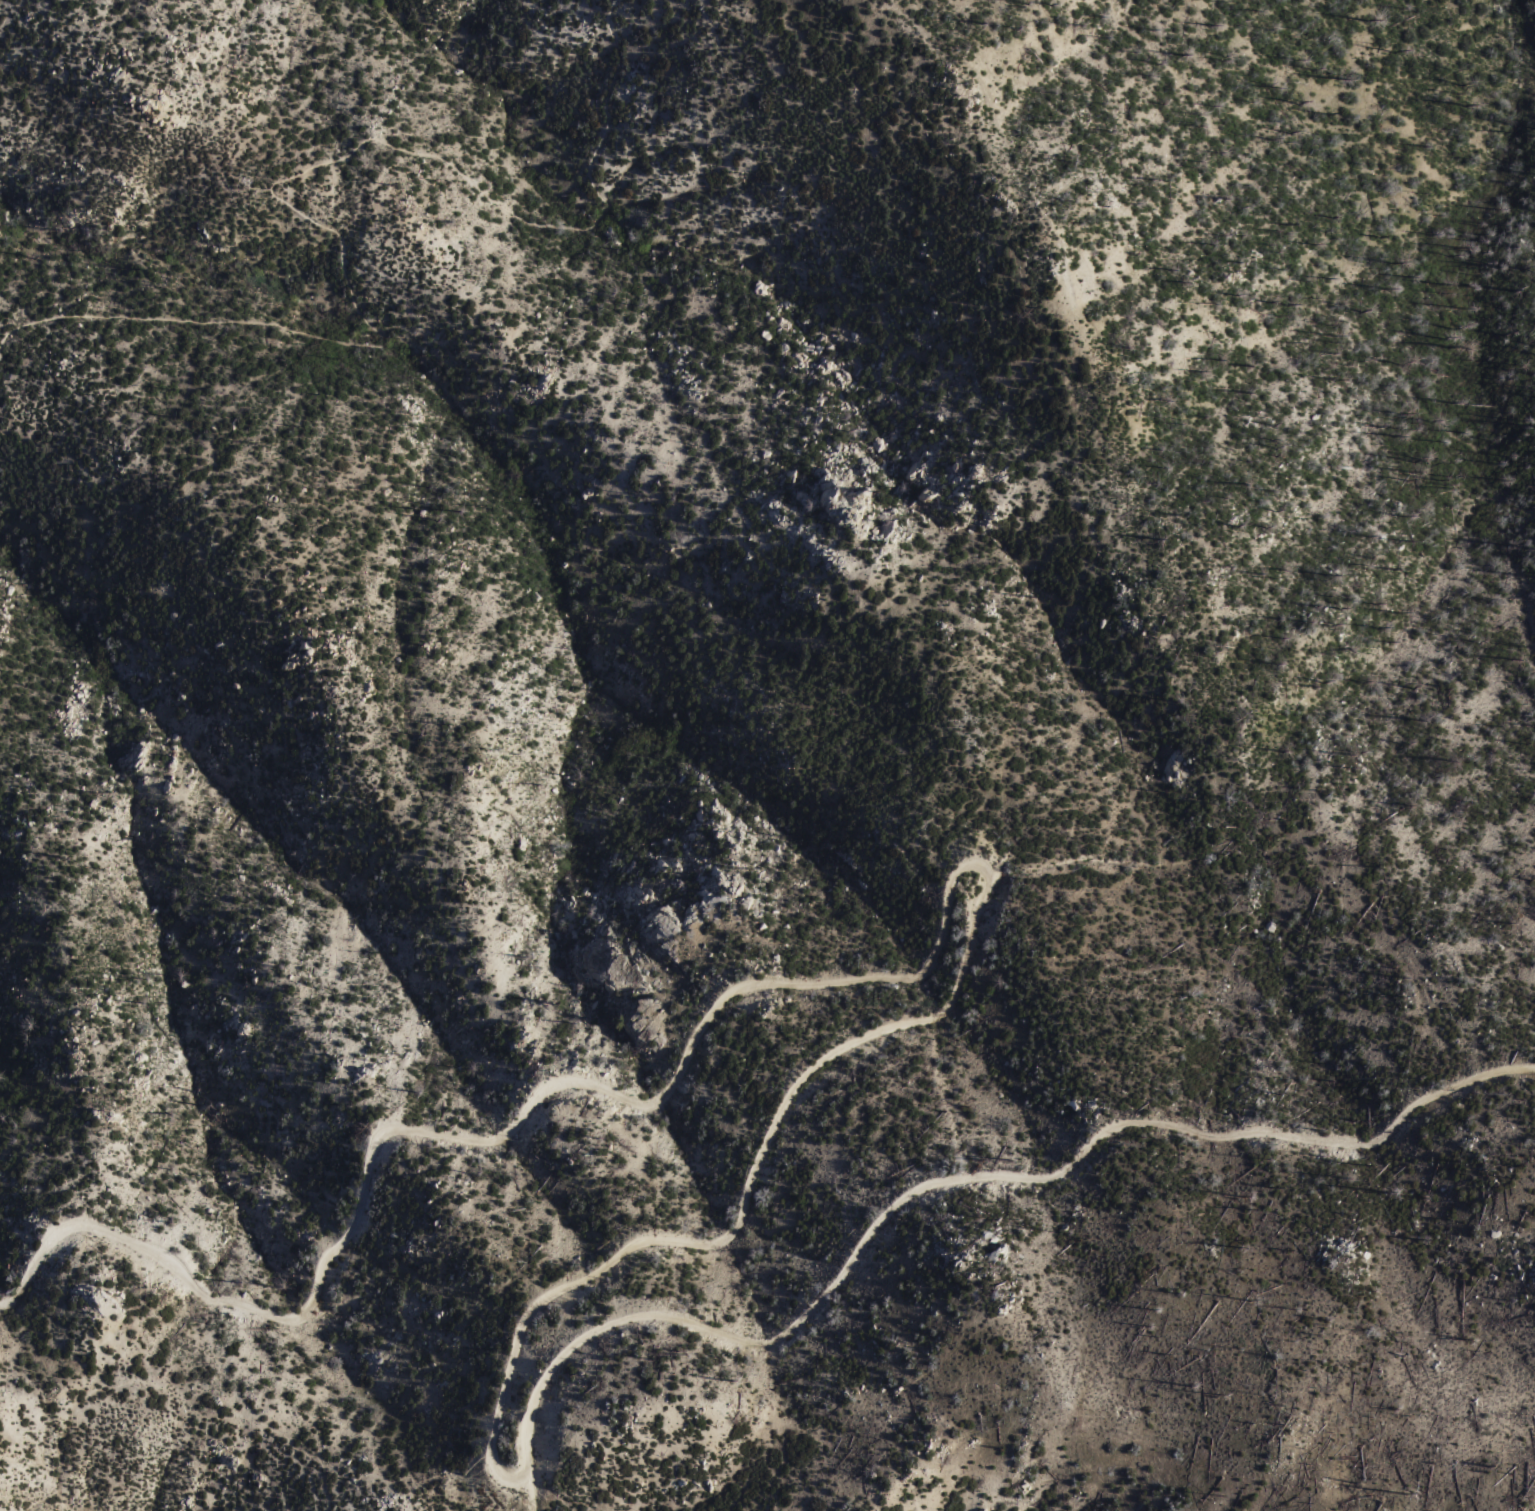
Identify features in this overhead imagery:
road: (273, 185)
road: (1306, 254)
road: (763, 1155)

